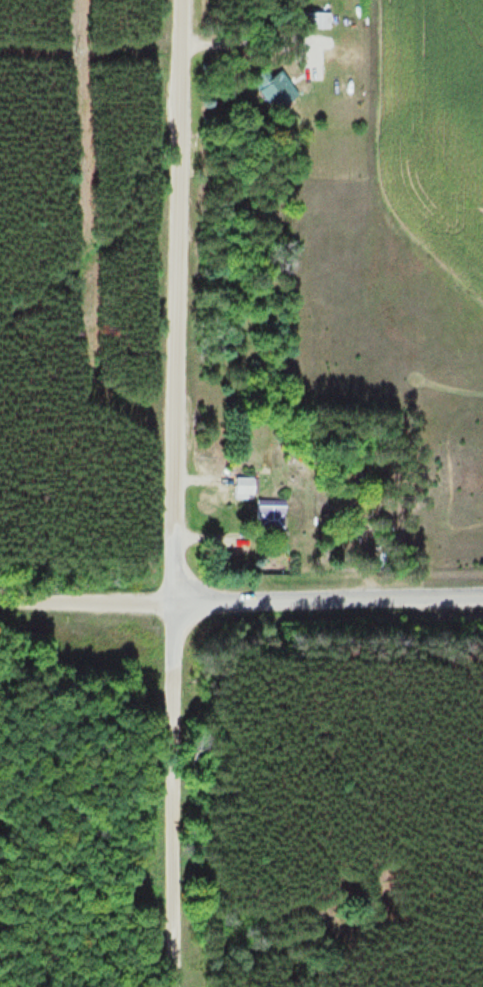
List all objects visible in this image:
building: (317, 19)
building: (277, 89)
road: (179, 300)
building: (247, 485)
building: (274, 513)
road: (330, 599)
road: (88, 601)
park: (90, 794)
road: (176, 794)

